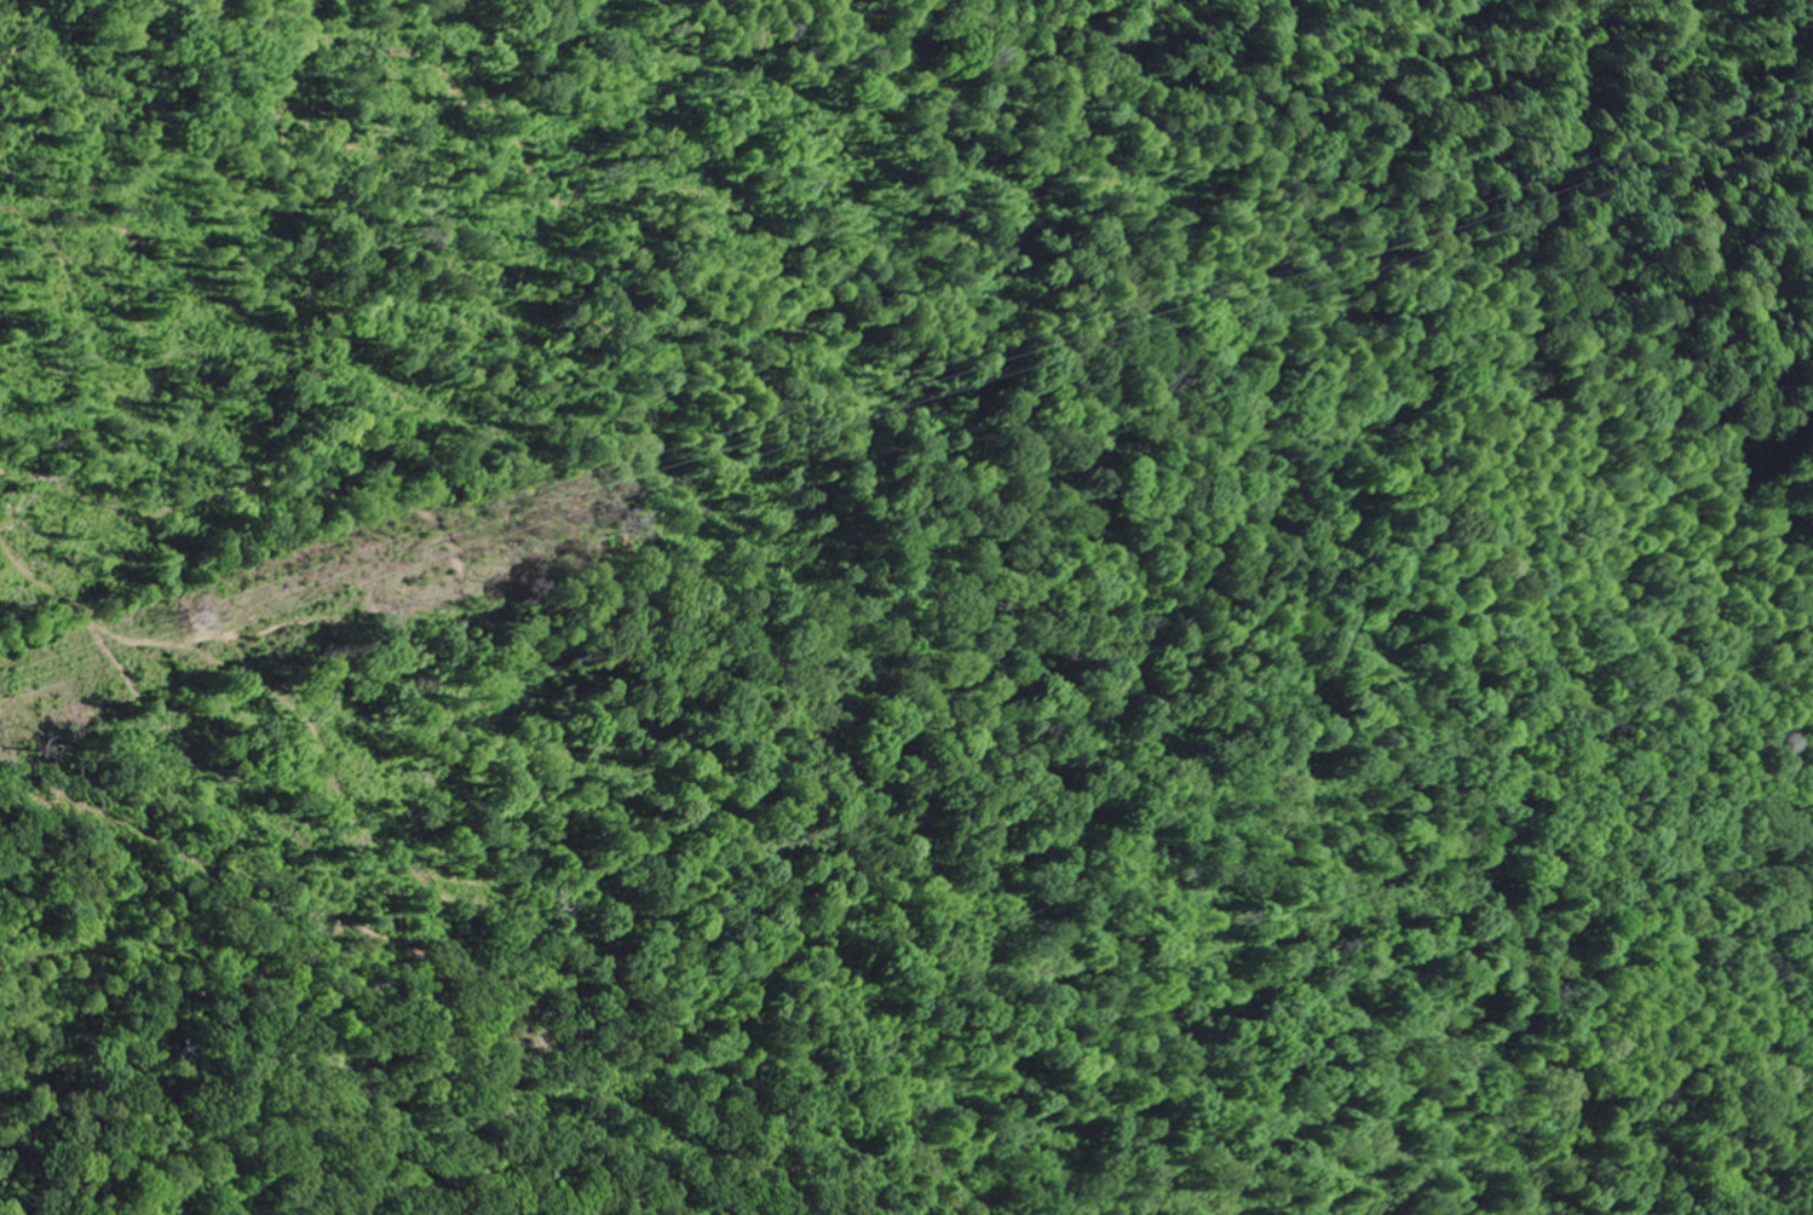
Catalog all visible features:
power tower: (224, 660)

